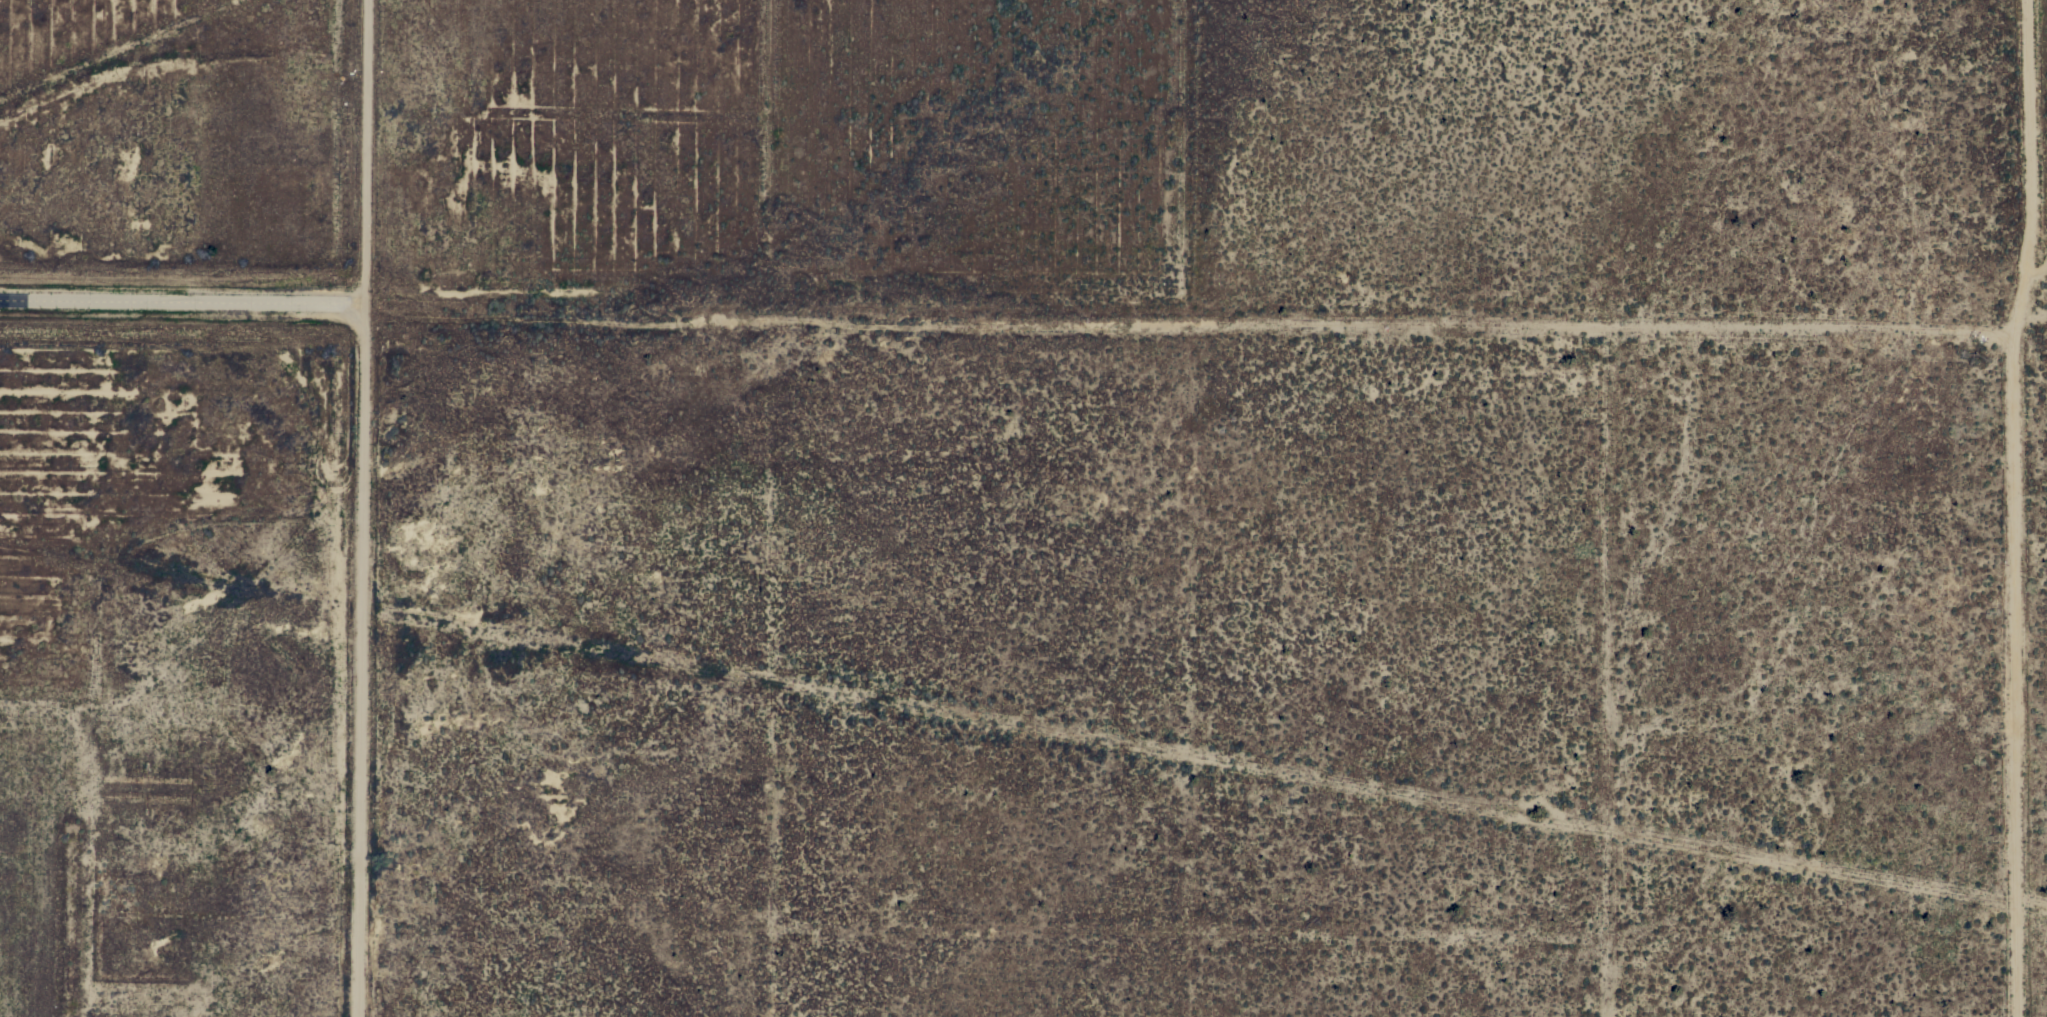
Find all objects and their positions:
road: (370, 151)
road: (184, 301)
road: (2031, 320)
road: (1192, 325)
road: (2018, 507)
road: (366, 659)
road: (1404, 790)

